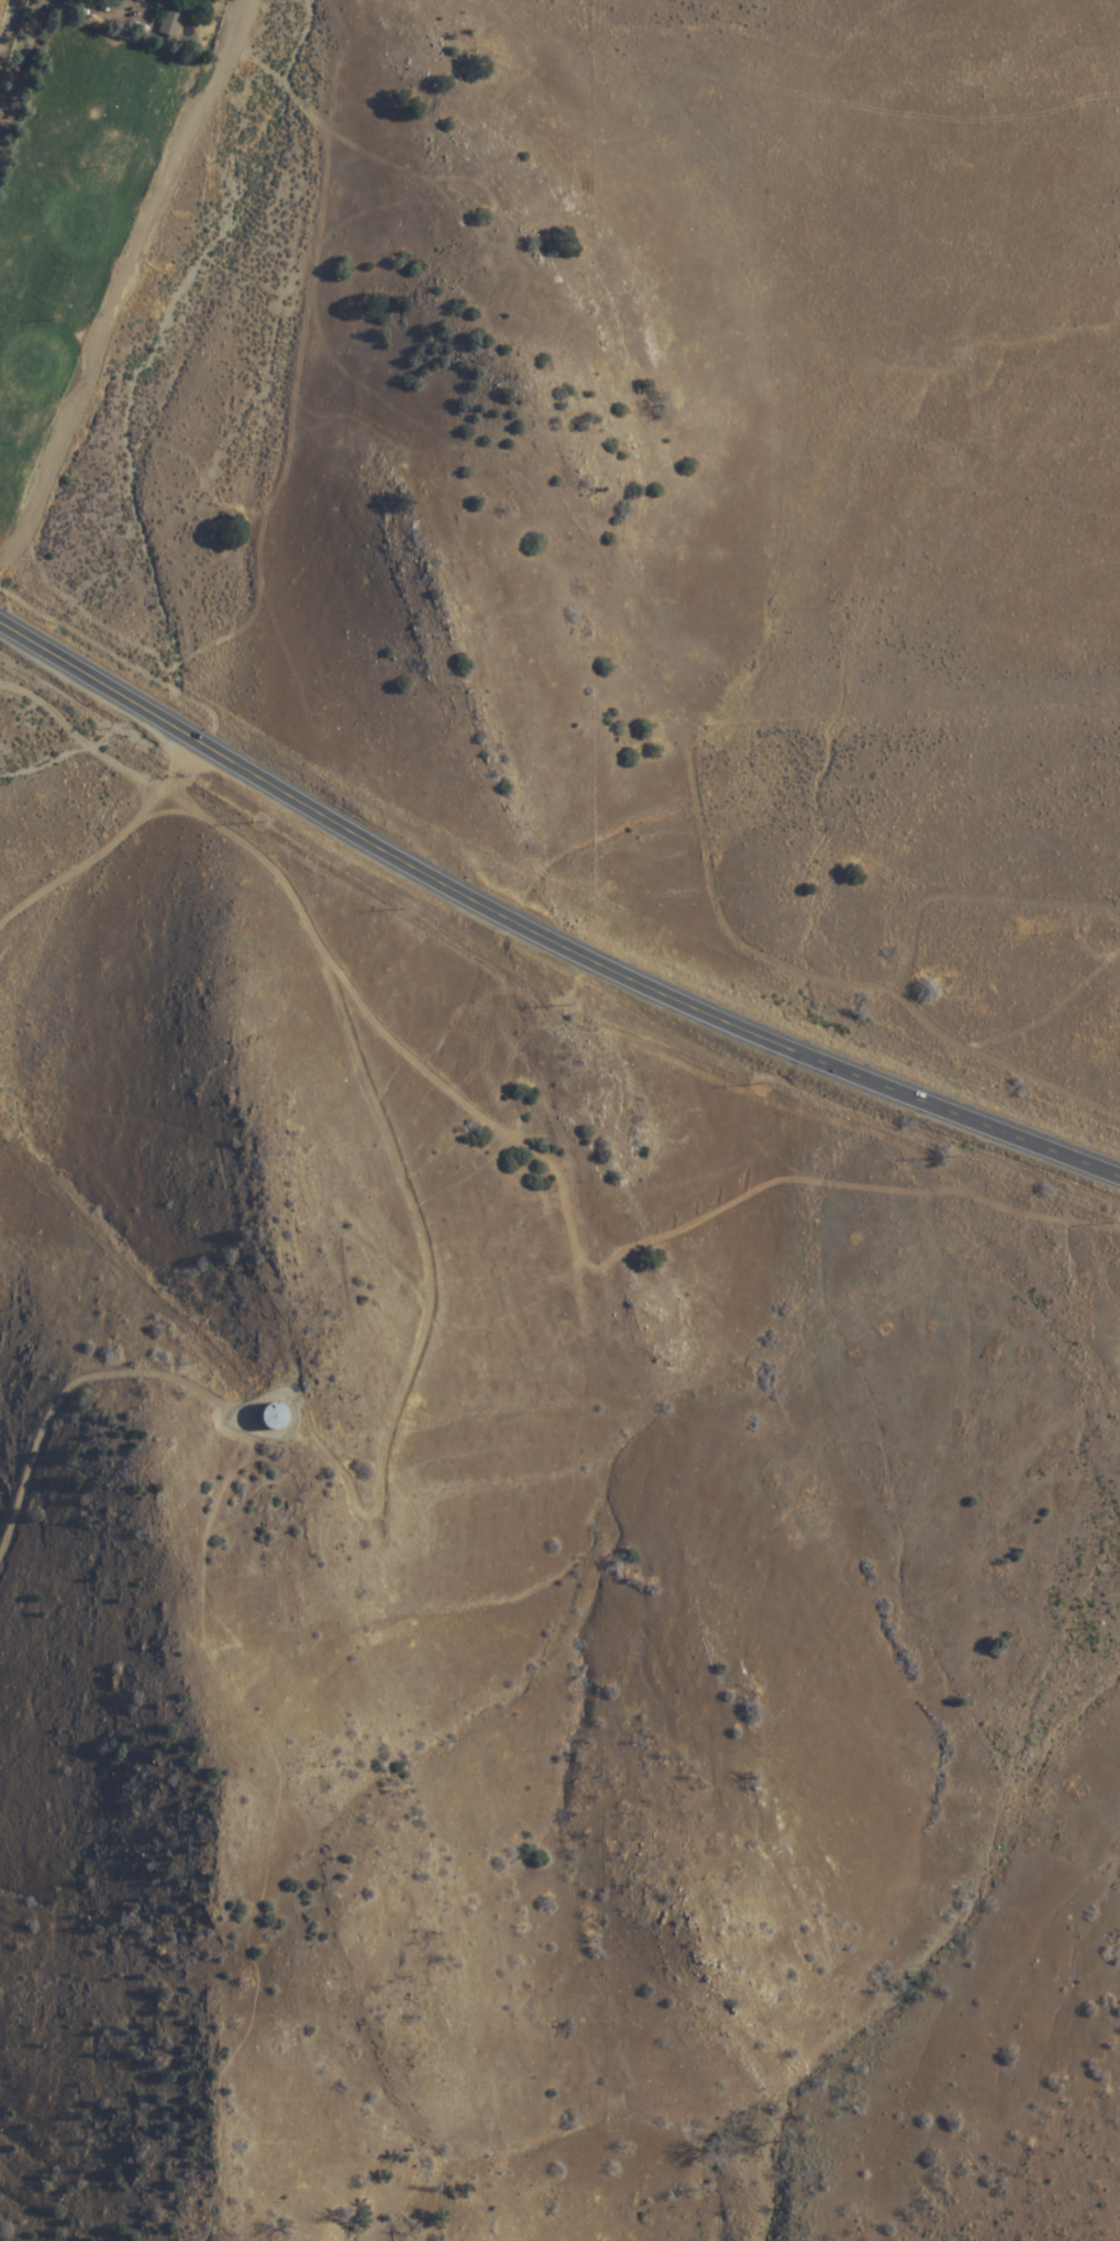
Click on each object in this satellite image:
building: (141, 1)
building: (171, 25)
road: (12, 37)
road: (24, 75)
road: (541, 940)
building: (278, 1414)

